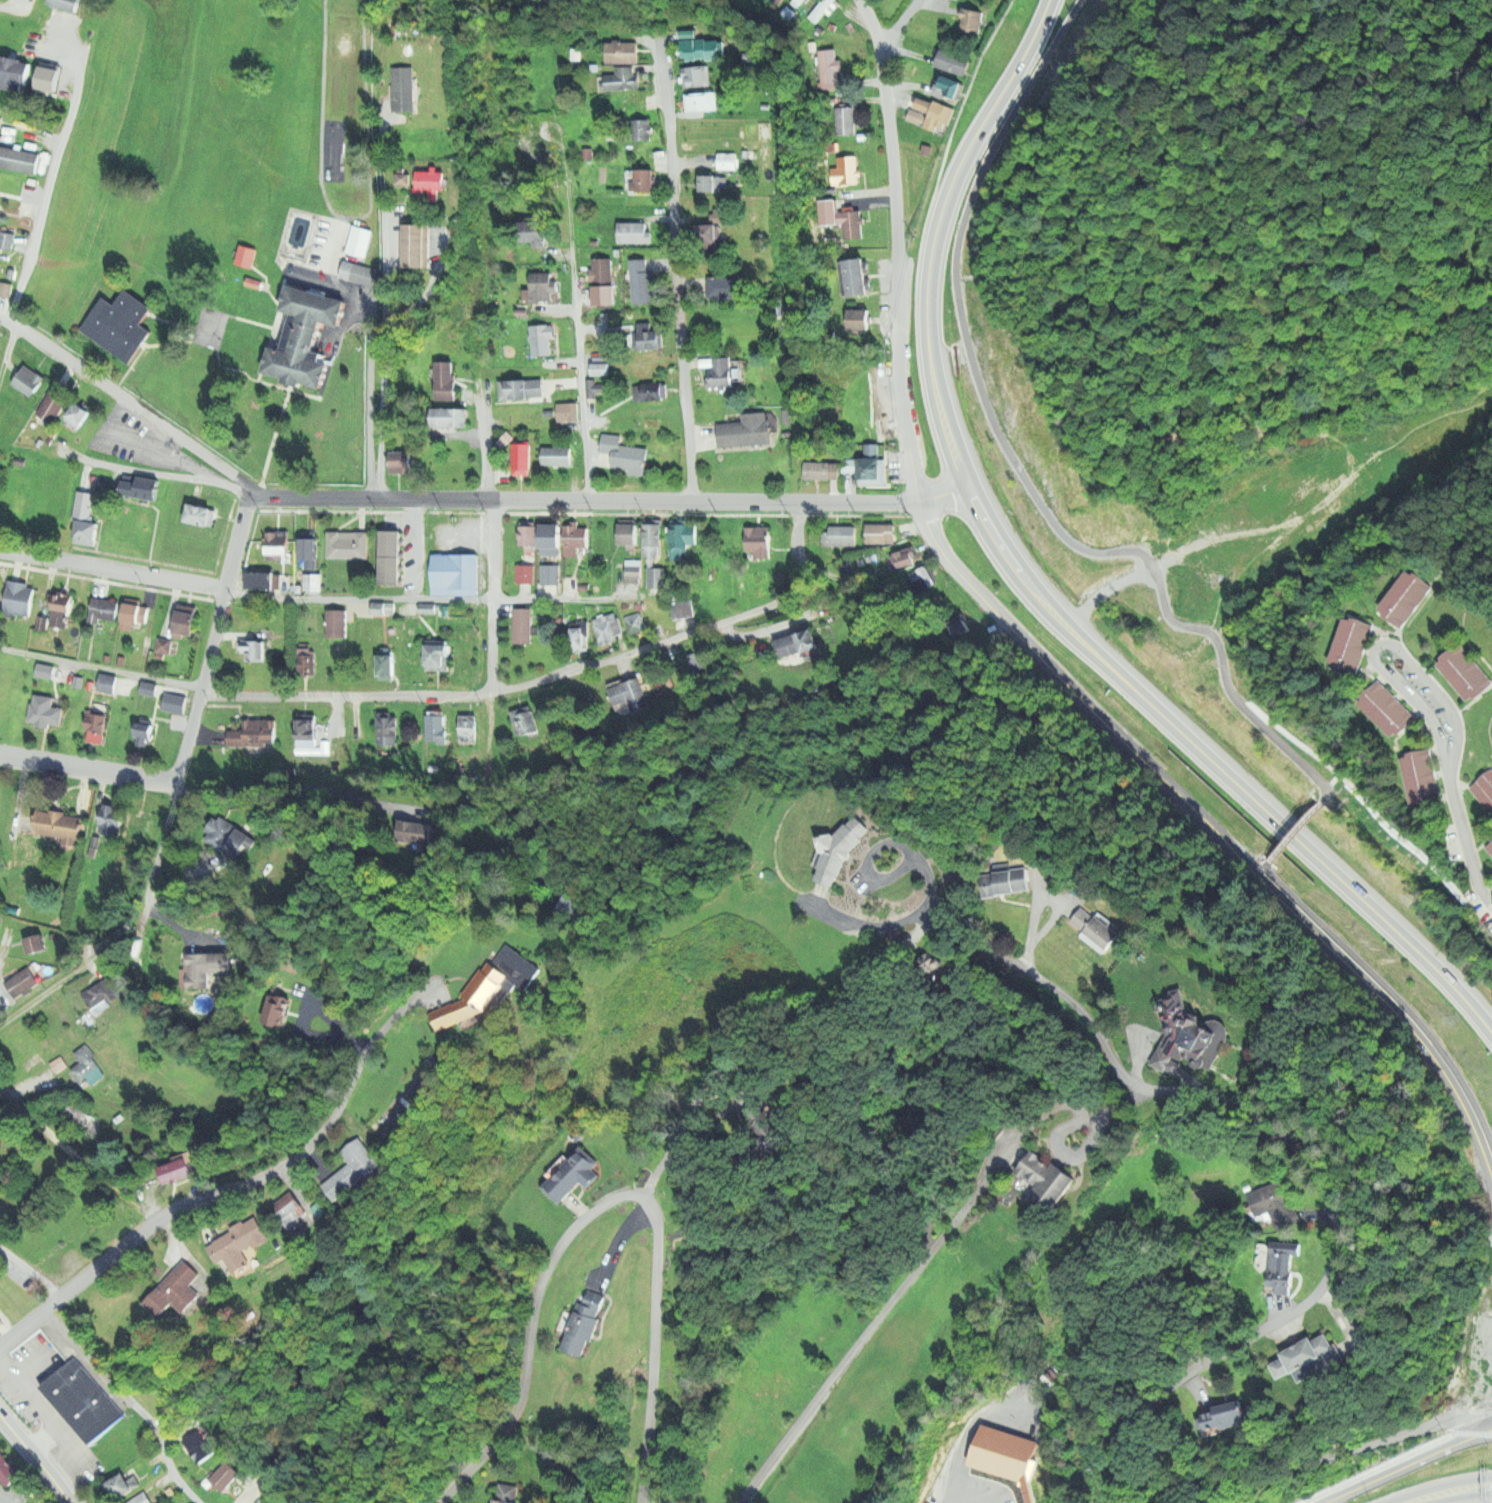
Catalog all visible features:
building: (67, 4)
building: (820, 10)
building: (972, 21)
road: (871, 24)
road: (898, 25)
building: (705, 48)
building: (624, 51)
building: (953, 60)
building: (830, 65)
building: (14, 73)
building: (622, 78)
building: (697, 79)
building: (404, 86)
building: (950, 86)
building: (703, 100)
building: (335, 107)
building: (930, 114)
building: (1, 115)
building: (846, 119)
building: (643, 128)
building: (928, 148)
building: (19, 158)
building: (730, 160)
building: (846, 170)
building: (0, 176)
building: (403, 178)
building: (431, 179)
building: (644, 181)
building: (708, 182)
road: (43, 207)
building: (842, 217)
building: (534, 231)
building: (633, 231)
building: (7, 239)
building: (359, 241)
building: (417, 244)
building: (708, 261)
building: (357, 271)
building: (858, 275)
road: (898, 276)
road: (675, 277)
building: (604, 279)
building: (642, 281)
building: (541, 286)
building: (5, 288)
building: (859, 318)
building: (121, 324)
road: (186, 324)
road: (384, 332)
road: (195, 334)
building: (309, 334)
road: (219, 335)
building: (651, 336)
building: (542, 338)
road: (152, 343)
road: (267, 344)
road: (579, 360)
building: (601, 368)
building: (724, 372)
building: (30, 378)
building: (445, 378)
building: (521, 388)
building: (596, 388)
building: (649, 390)
road: (126, 400)
building: (53, 405)
building: (568, 411)
building: (80, 413)
building: (450, 416)
building: (866, 418)
building: (749, 430)
road: (275, 435)
parking lot: (135, 441)
road: (484, 447)
building: (626, 453)
building: (556, 455)
road: (1012, 459)
building: (401, 460)
building: (522, 460)
building: (869, 461)
building: (821, 470)
road: (154, 471)
building: (150, 489)
road: (314, 497)
road: (675, 501)
building: (87, 505)
building: (200, 513)
building: (881, 532)
building: (630, 533)
building: (529, 534)
building: (844, 535)
building: (580, 537)
building: (551, 539)
building: (654, 539)
building: (684, 539)
building: (760, 541)
building: (348, 544)
building: (277, 547)
building: (308, 548)
building: (391, 556)
building: (907, 557)
road: (112, 570)
building: (632, 570)
building: (524, 571)
building: (457, 573)
building: (551, 573)
building: (657, 576)
building: (263, 578)
building: (921, 580)
building: (312, 583)
road: (1030, 590)
road: (492, 595)
building: (19, 597)
road: (432, 600)
building: (1405, 601)
building: (426, 606)
building: (384, 607)
building: (61, 609)
building: (103, 609)
building: (683, 610)
building: (135, 615)
building: (188, 619)
building: (635, 620)
building: (337, 622)
building: (524, 624)
building: (608, 627)
building: (581, 634)
road: (213, 635)
building: (163, 644)
building: (793, 645)
road: (1384, 645)
building: (1353, 648)
building: (254, 650)
building: (439, 654)
building: (695, 661)
building: (306, 665)
building: (386, 665)
building: (45, 668)
road: (100, 670)
building: (1466, 675)
road: (547, 678)
building: (106, 683)
building: (148, 686)
building: (627, 698)
building: (174, 700)
building: (45, 710)
building: (1388, 712)
building: (97, 722)
building: (524, 722)
building: (435, 727)
building: (468, 727)
building: (259, 729)
building: (386, 729)
building: (307, 730)
building: (144, 732)
road: (88, 769)
building: (1422, 778)
building: (1484, 789)
road: (1313, 815)
building: (109, 819)
building: (68, 827)
building: (139, 827)
road: (1213, 829)
building: (232, 835)
road: (1292, 838)
building: (1489, 847)
building: (842, 849)
road: (1465, 849)
road: (158, 851)
road: (1276, 854)
road: (929, 869)
building: (1010, 882)
building: (1098, 927)
building: (37, 943)
building: (211, 963)
road: (74, 974)
building: (21, 982)
building: (491, 987)
road: (1049, 989)
road: (1392, 990)
building: (102, 991)
building: (279, 1009)
road: (224, 1028)
building: (1194, 1033)
road: (373, 1039)
building: (57, 1062)
building: (86, 1065)
building: (81, 1117)
road: (77, 1157)
building: (176, 1169)
building: (352, 1169)
road: (1327, 1169)
building: (573, 1173)
road: (251, 1177)
building: (1048, 1178)
road: (604, 1203)
building: (289, 1207)
building: (1283, 1211)
building: (240, 1242)
building: (1293, 1260)
road: (30, 1272)
road: (76, 1285)
building: (176, 1289)
building: (2, 1319)
building: (584, 1328)
building: (1482, 1340)
building: (1317, 1363)
road: (24, 1367)
building: (84, 1400)
road: (131, 1401)
parking lot: (44, 1405)
road: (43, 1414)
building: (1240, 1417)
road: (41, 1439)
building: (199, 1444)
building: (2, 1449)
building: (1002, 1451)
road: (35, 1459)
road: (1395, 1460)
road: (1408, 1466)
building: (8, 1470)
building: (225, 1475)
building: (124, 1484)
parking lot: (969, 1491)
building: (509, 1492)
road: (1451, 1493)
road: (249, 1496)
building: (141, 1498)

